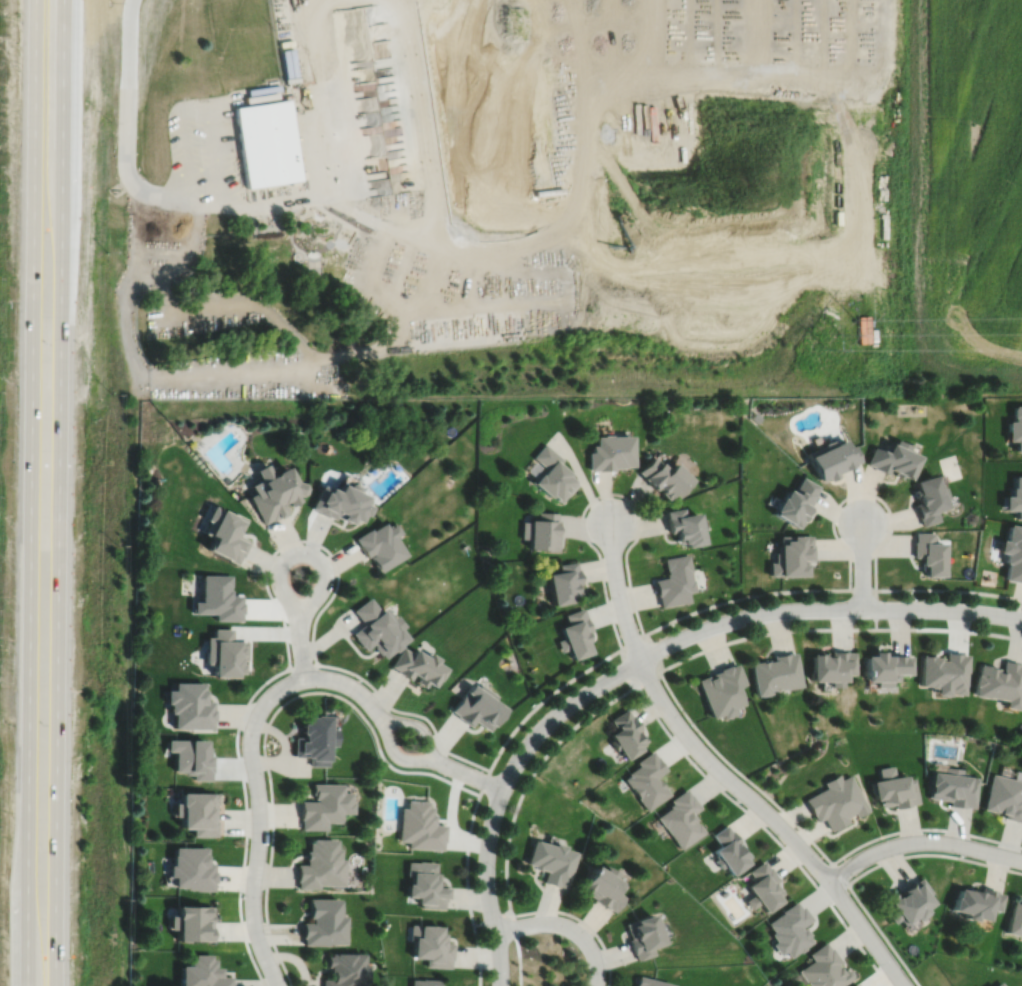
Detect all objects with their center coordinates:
road: (61, 90)
road: (255, 94)
road: (126, 98)
road: (352, 136)
road: (312, 142)
building: (270, 143)
road: (189, 147)
road: (217, 157)
crop: (965, 198)
road: (180, 203)
road: (273, 207)
road: (133, 239)
road: (185, 260)
road: (129, 336)
power tower: (841, 336)
road: (295, 360)
building: (1015, 429)
road: (30, 444)
building: (610, 454)
building: (830, 460)
building: (891, 461)
building: (551, 476)
road: (581, 477)
building: (661, 479)
road: (861, 493)
road: (604, 494)
building: (272, 496)
building: (1015, 499)
building: (927, 501)
building: (793, 504)
building: (337, 505)
building: (681, 529)
building: (541, 533)
building: (222, 537)
street lamp: (303, 544)
building: (378, 547)
building: (927, 555)
building: (1012, 555)
building: (790, 558)
road: (281, 562)
road: (862, 566)
road: (57, 583)
building: (673, 583)
road: (266, 586)
building: (563, 586)
road: (822, 590)
road: (617, 593)
building: (215, 601)
road: (826, 609)
street lamp: (287, 623)
road: (831, 629)
building: (376, 631)
building: (575, 637)
building: (222, 653)
building: (830, 665)
building: (884, 666)
road: (302, 667)
building: (415, 667)
building: (944, 671)
building: (774, 672)
building: (1000, 682)
road: (344, 683)
street lamp: (267, 686)
street lamp: (576, 688)
building: (719, 689)
building: (188, 705)
building: (476, 705)
road: (267, 724)
road: (418, 725)
building: (625, 733)
building: (312, 738)
road: (395, 754)
building: (189, 756)
street lamp: (506, 759)
street lamp: (431, 769)
road: (473, 775)
road: (530, 777)
street lamp: (264, 778)
building: (646, 780)
road: (484, 781)
building: (953, 787)
building: (893, 788)
road: (501, 793)
building: (1005, 797)
building: (835, 801)
building: (322, 805)
building: (195, 811)
building: (680, 819)
road: (774, 820)
road: (259, 821)
building: (419, 826)
road: (768, 831)
road: (812, 841)
road: (921, 842)
building: (728, 851)
building: (551, 861)
building: (318, 865)
road: (872, 868)
building: (190, 869)
street lamp: (496, 869)
road: (839, 873)
building: (424, 885)
building: (603, 886)
building: (762, 887)
street lamp: (243, 895)
building: (908, 902)
building: (976, 903)
building: (1015, 919)
road: (492, 920)
road: (582, 921)
building: (190, 922)
building: (321, 922)
road: (566, 926)
building: (790, 930)
building: (640, 936)
road: (27, 937)
street lamp: (593, 938)
building: (430, 945)
road: (518, 956)
building: (344, 969)
building: (824, 969)
street lamp: (490, 971)
building: (200, 973)
building: (423, 982)
building: (647, 982)
building: (855, 985)
building: (1001, 985)

